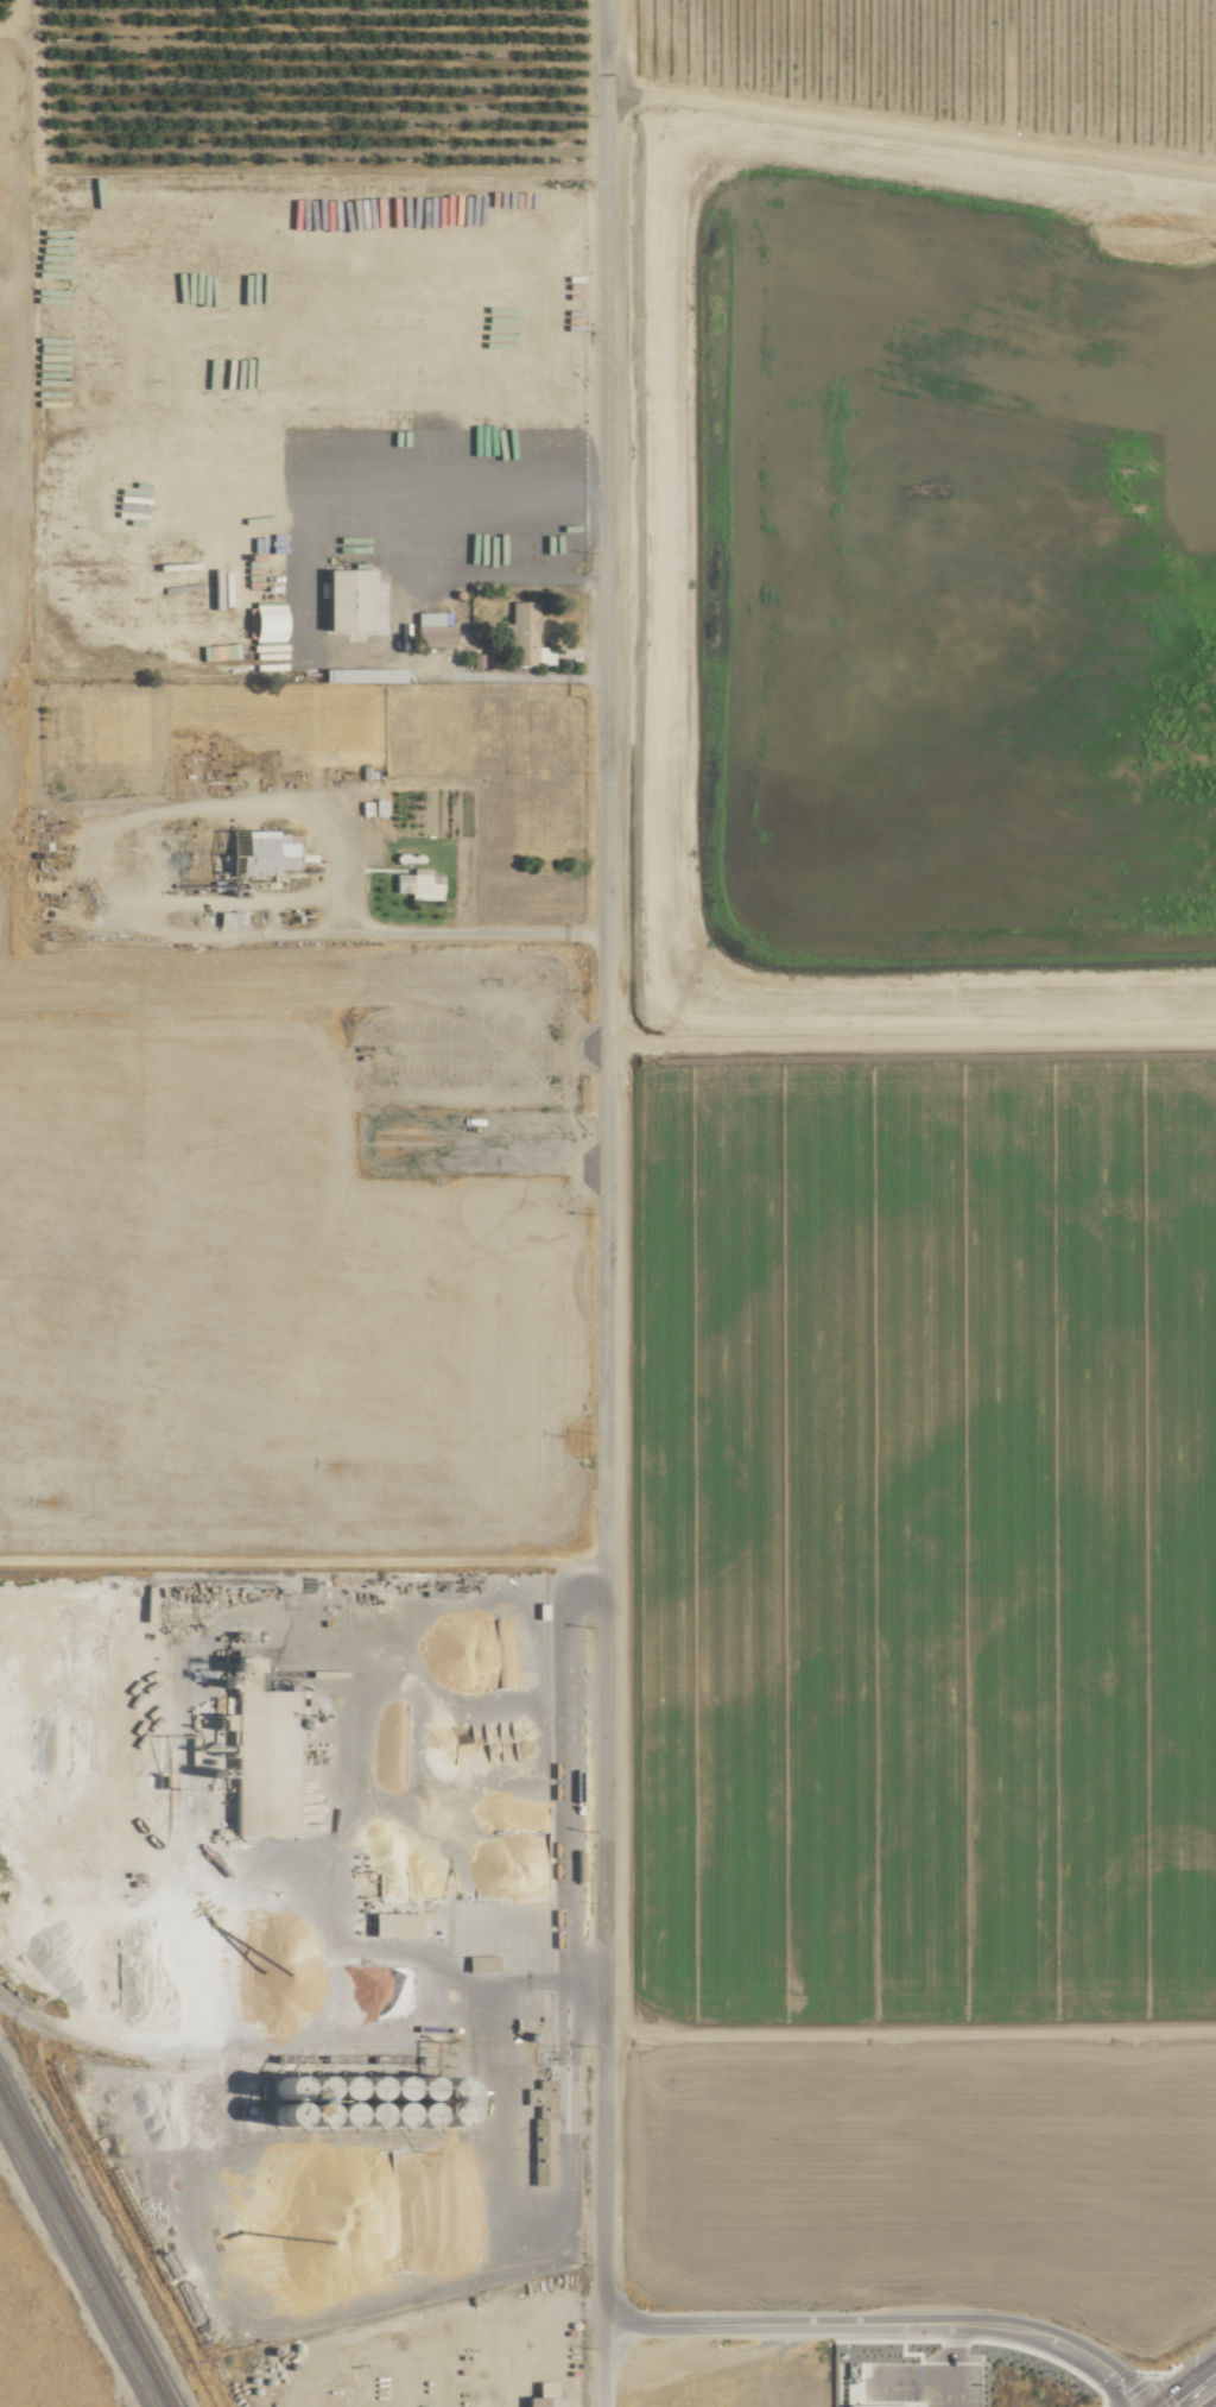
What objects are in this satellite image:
building: (343, 598)
building: (430, 628)
building: (525, 636)
road: (488, 674)
building: (247, 855)
road: (90, 873)
road: (445, 929)
road: (602, 1161)
building: (389, 1925)
railway: (348, 2049)
railway: (251, 2058)
building: (539, 2150)
railway: (85, 2244)
railway: (76, 2262)
road: (885, 2324)
road: (604, 2365)
road: (950, 2365)
road: (908, 2376)
road: (1183, 2384)
building: (540, 2401)
road: (1211, 2403)
building: (874, 2405)

